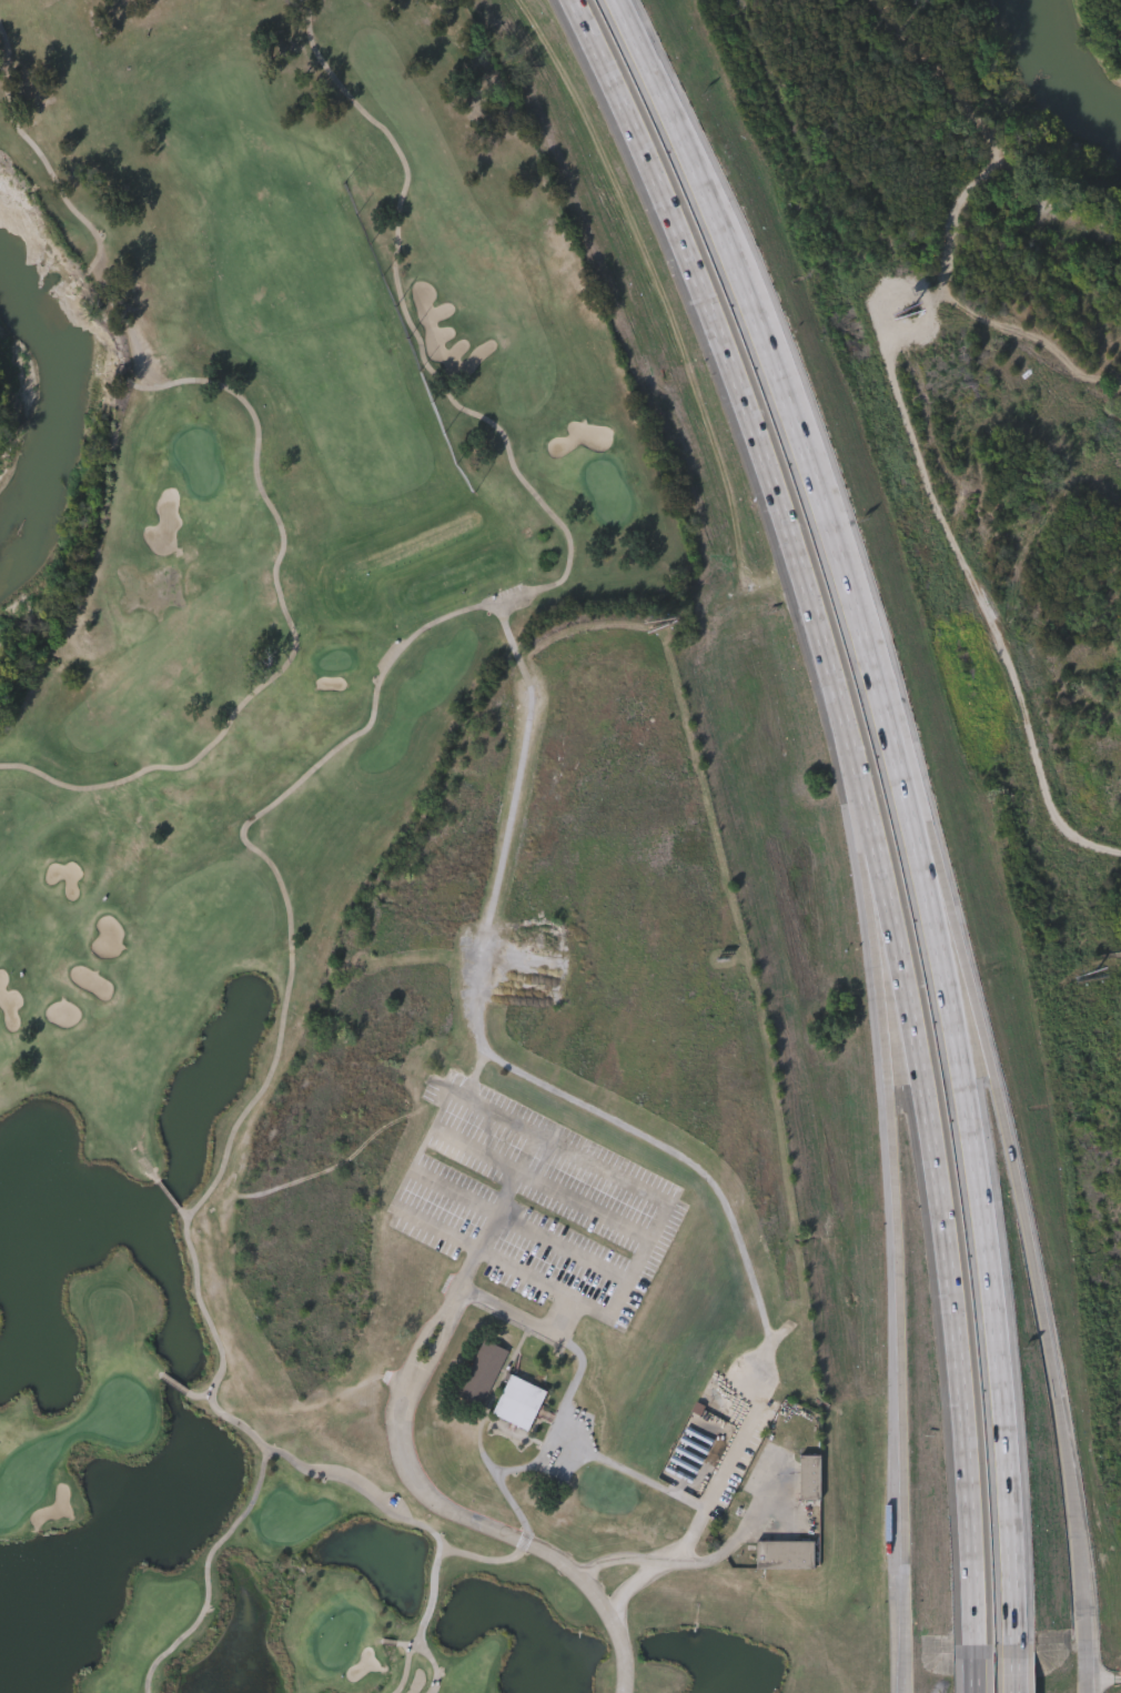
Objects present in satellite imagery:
river: (1058, 71)
road: (688, 153)
road: (748, 416)
river: (46, 439)
park: (20, 443)
road: (841, 567)
road: (479, 606)
road: (993, 612)
road: (933, 877)
road: (875, 900)
park: (365, 920)
road: (479, 1037)
road: (484, 1111)
road: (476, 1149)
road: (171, 1198)
road: (598, 1213)
road: (185, 1216)
road: (521, 1228)
road: (984, 1240)
road: (947, 1251)
road: (1037, 1294)
road: (570, 1297)
road: (900, 1313)
road: (221, 1347)
building: (482, 1371)
road: (763, 1382)
road: (178, 1385)
road: (573, 1388)
road: (202, 1397)
building: (517, 1401)
road: (573, 1468)
road: (362, 1492)
road: (458, 1512)
road: (745, 1532)
building: (786, 1553)
road: (489, 1560)
road: (209, 1574)
road: (435, 1598)
road: (436, 1666)
road: (408, 1667)
road: (1103, 1670)
road: (1014, 1674)
road: (973, 1675)
road: (1085, 1681)
road: (905, 1685)

